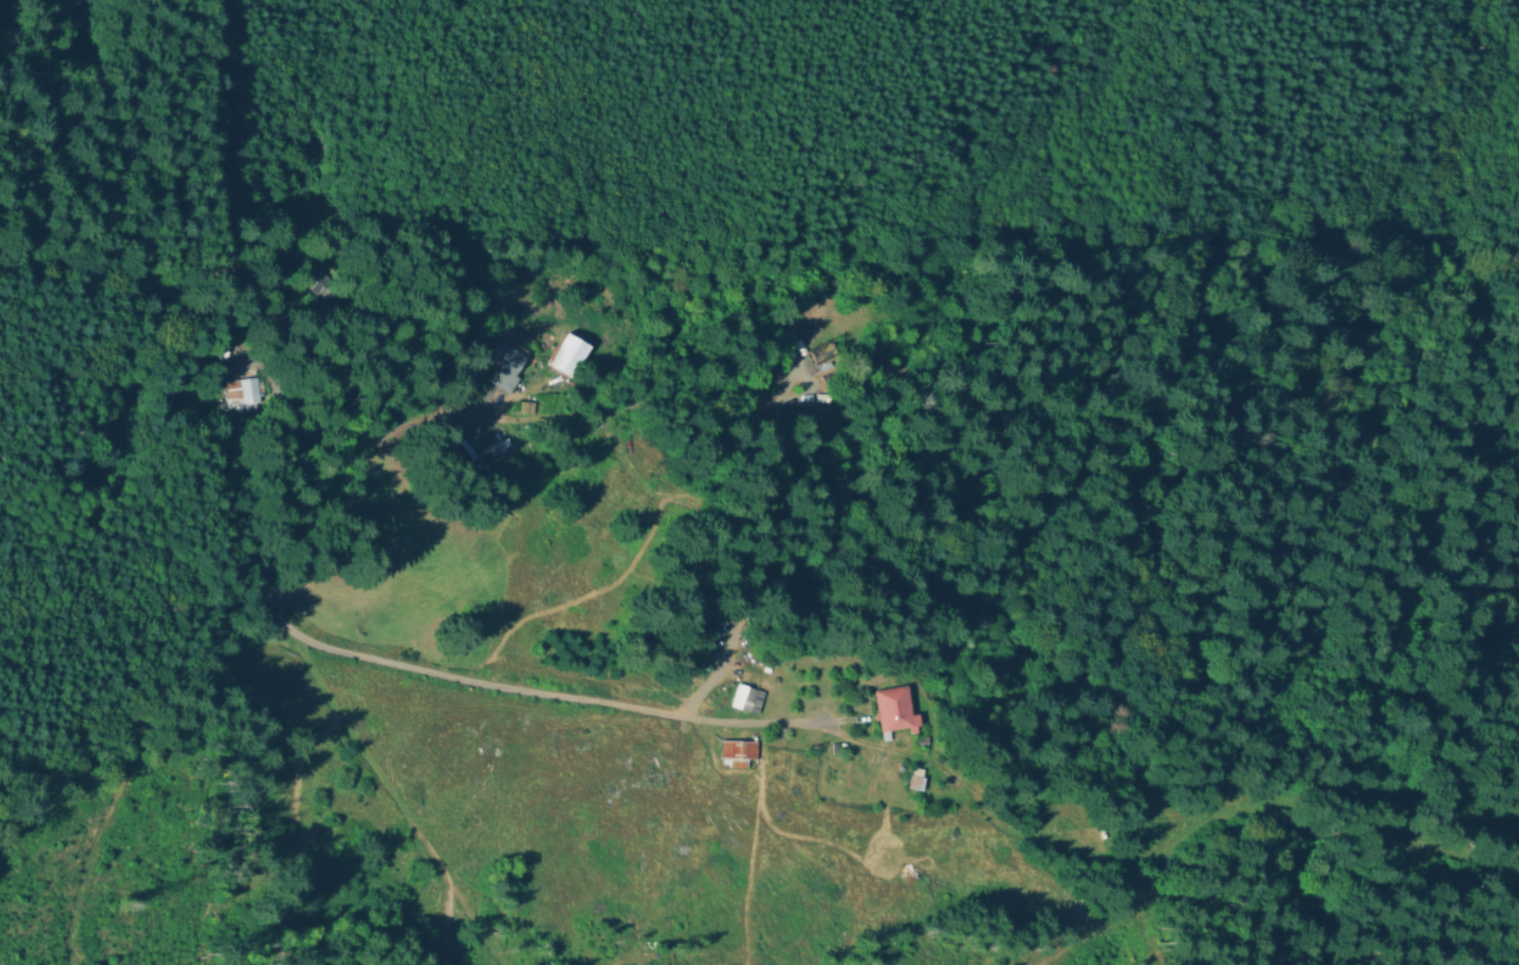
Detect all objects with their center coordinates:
building: (789, 334)
building: (564, 354)
building: (502, 364)
building: (242, 396)
building: (627, 461)
road: (364, 476)
road: (277, 606)
building: (740, 696)
building: (890, 711)
building: (734, 754)

